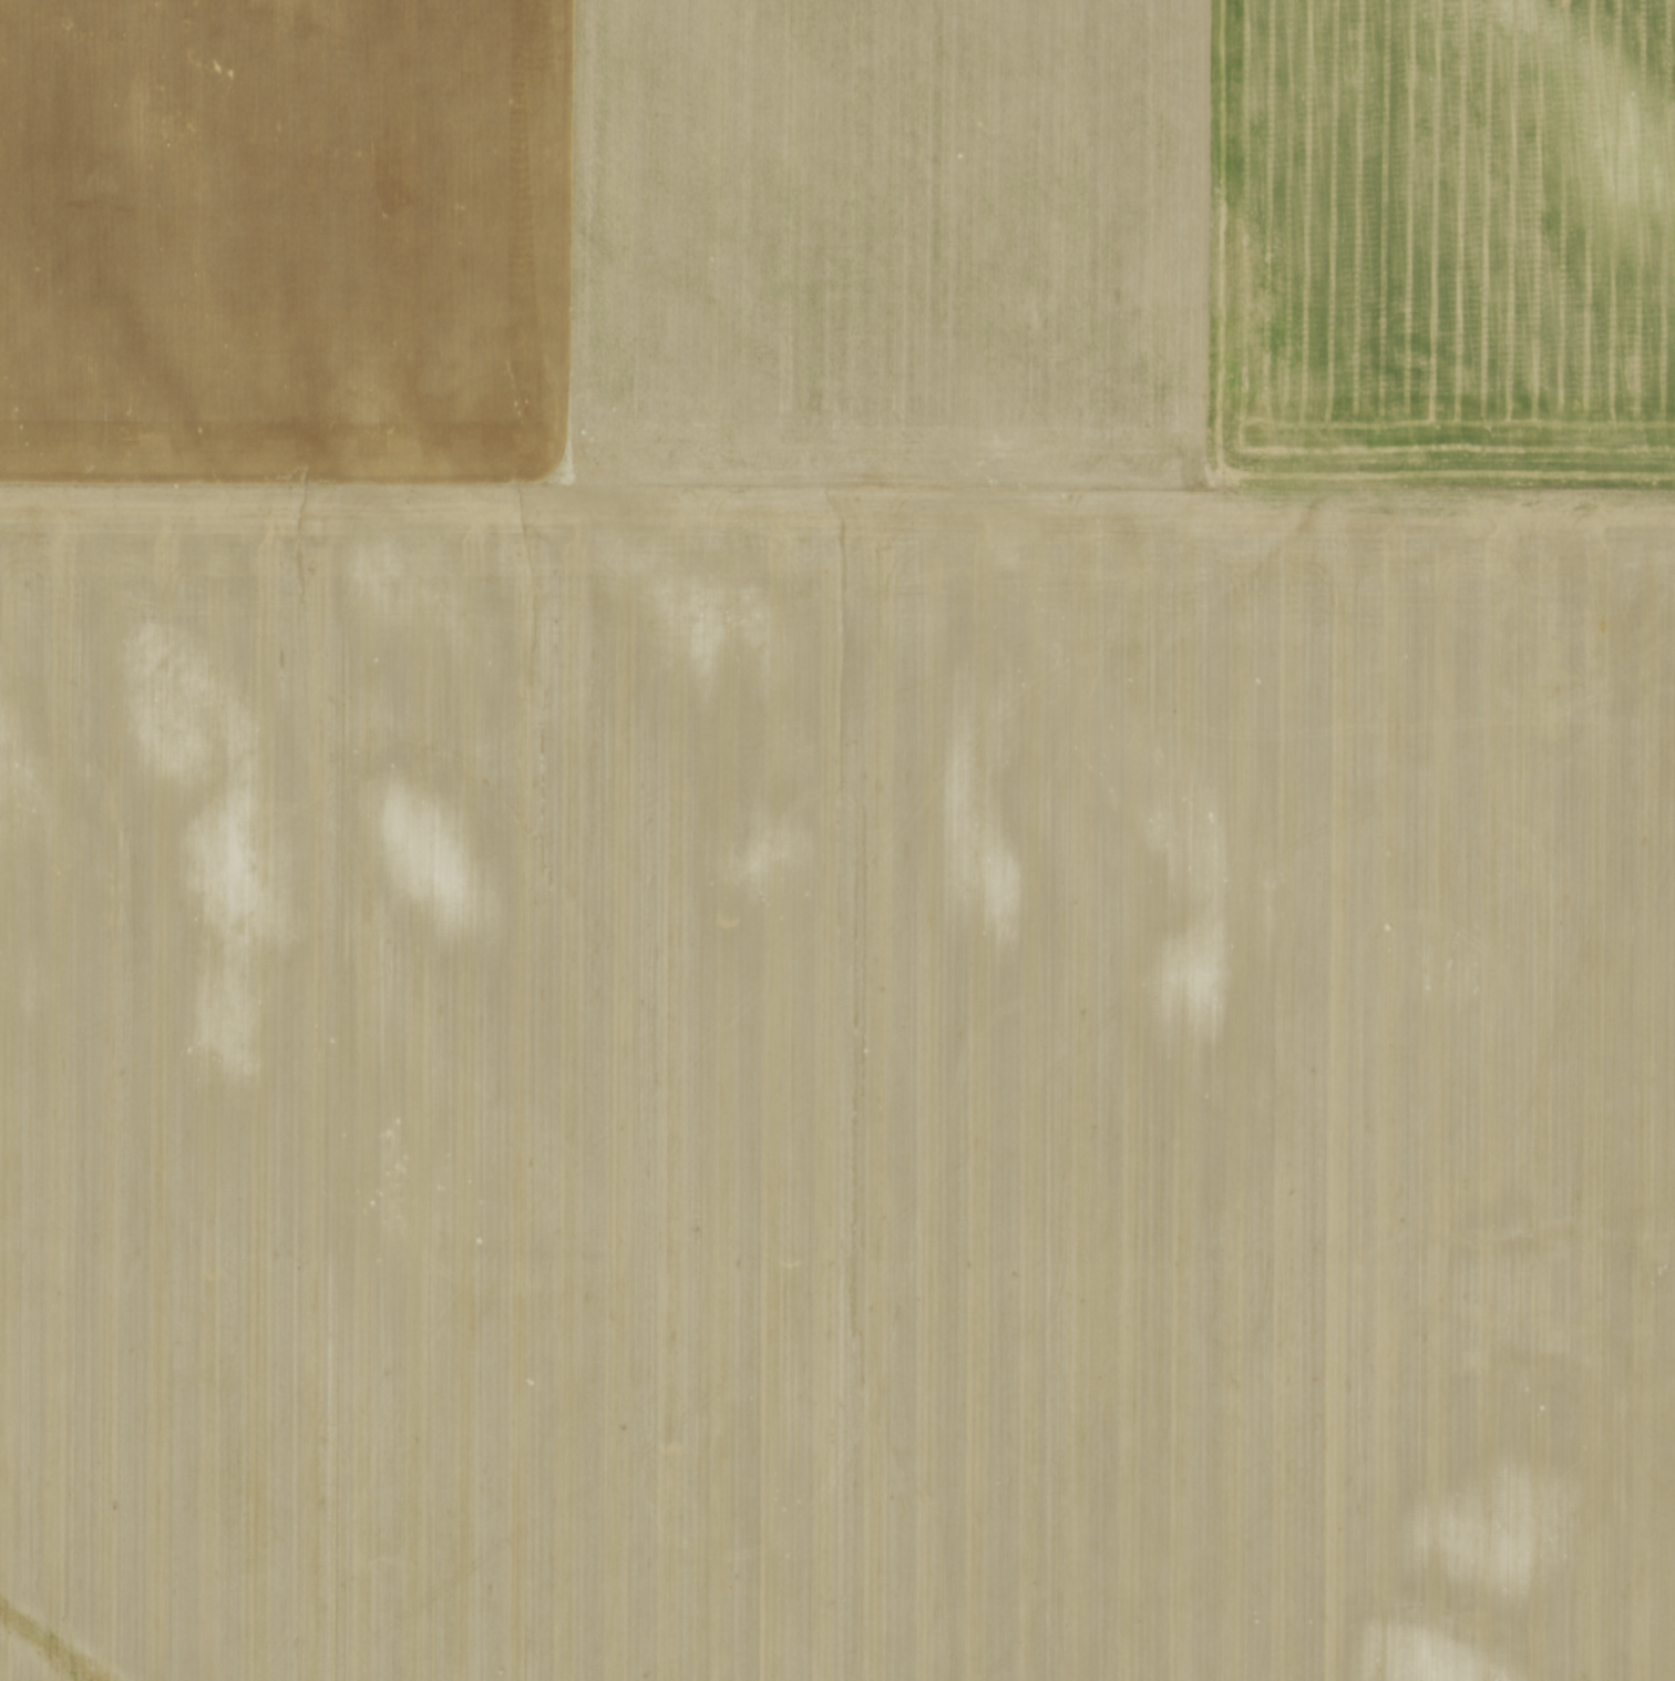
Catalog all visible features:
crop: (837, 840)

